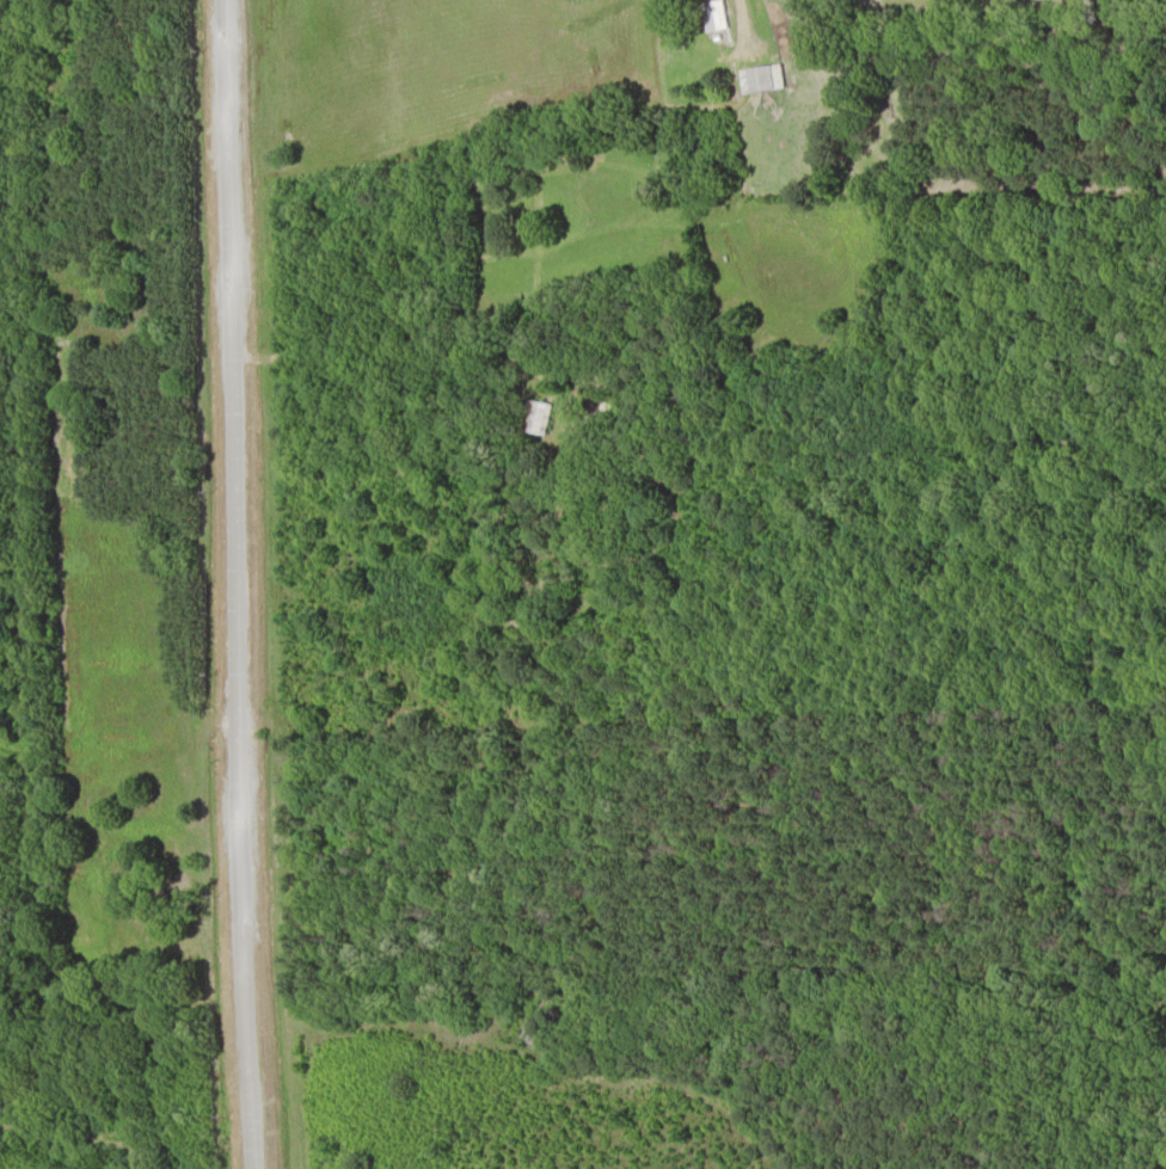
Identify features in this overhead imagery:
building: (711, 13)
building: (757, 76)
building: (533, 416)
road: (231, 584)

